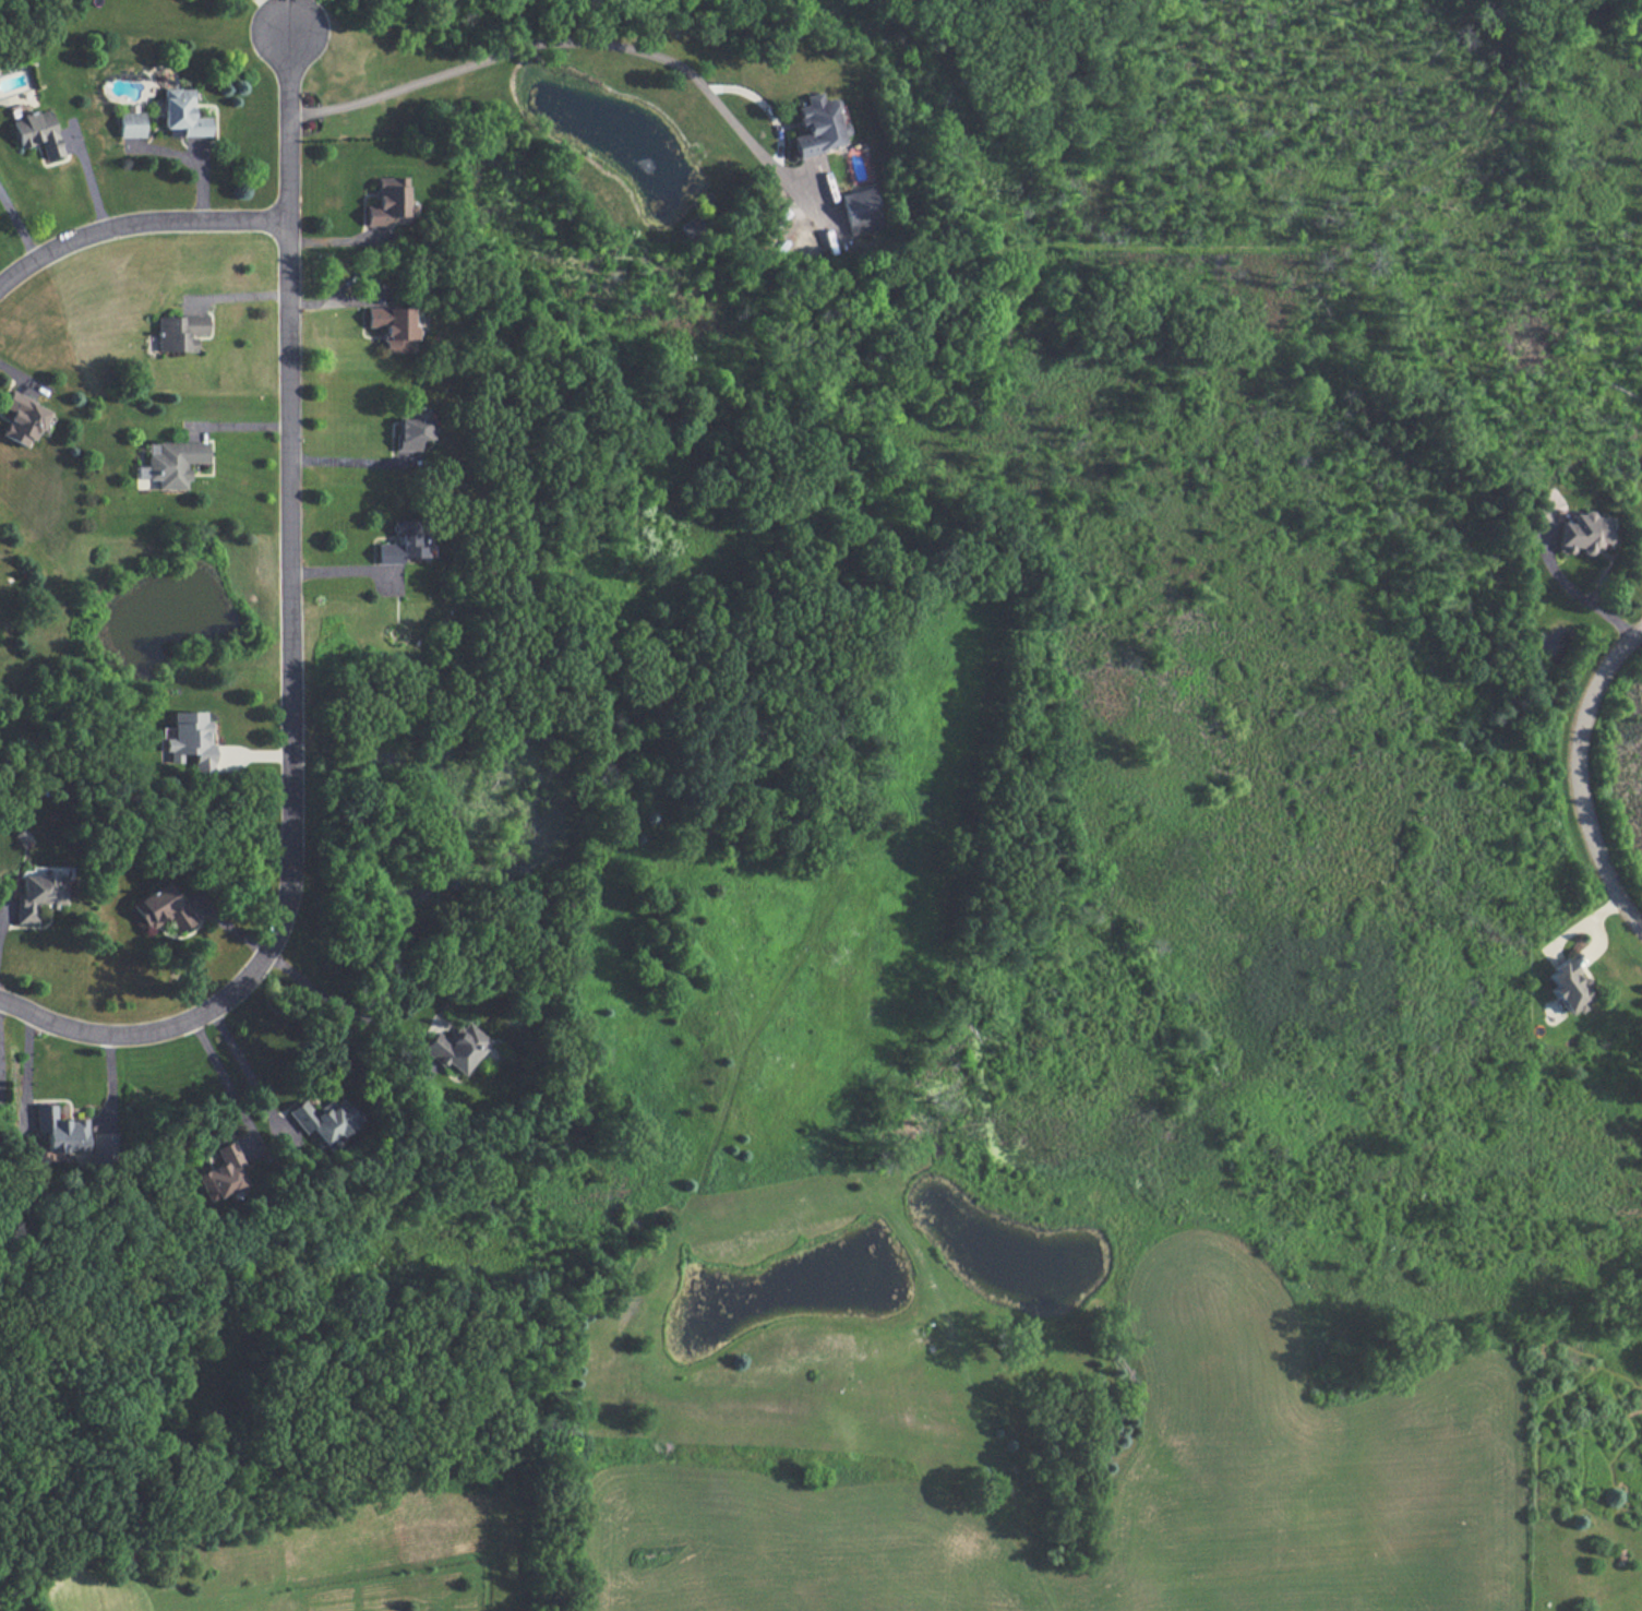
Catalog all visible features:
road: (549, 40)
building: (182, 112)
building: (131, 123)
building: (817, 126)
building: (38, 132)
building: (386, 201)
building: (860, 211)
road: (139, 222)
road: (19, 224)
building: (393, 327)
building: (180, 332)
building: (22, 419)
building: (411, 432)
road: (349, 456)
building: (171, 462)
building: (1581, 533)
road: (1577, 595)
road: (295, 646)
building: (191, 740)
road: (1575, 771)
building: (38, 895)
building: (160, 908)
building: (1568, 987)
road: (352, 1012)
building: (456, 1047)
road: (226, 1087)
building: (324, 1119)
building: (59, 1131)
building: (103, 1144)
building: (221, 1172)

